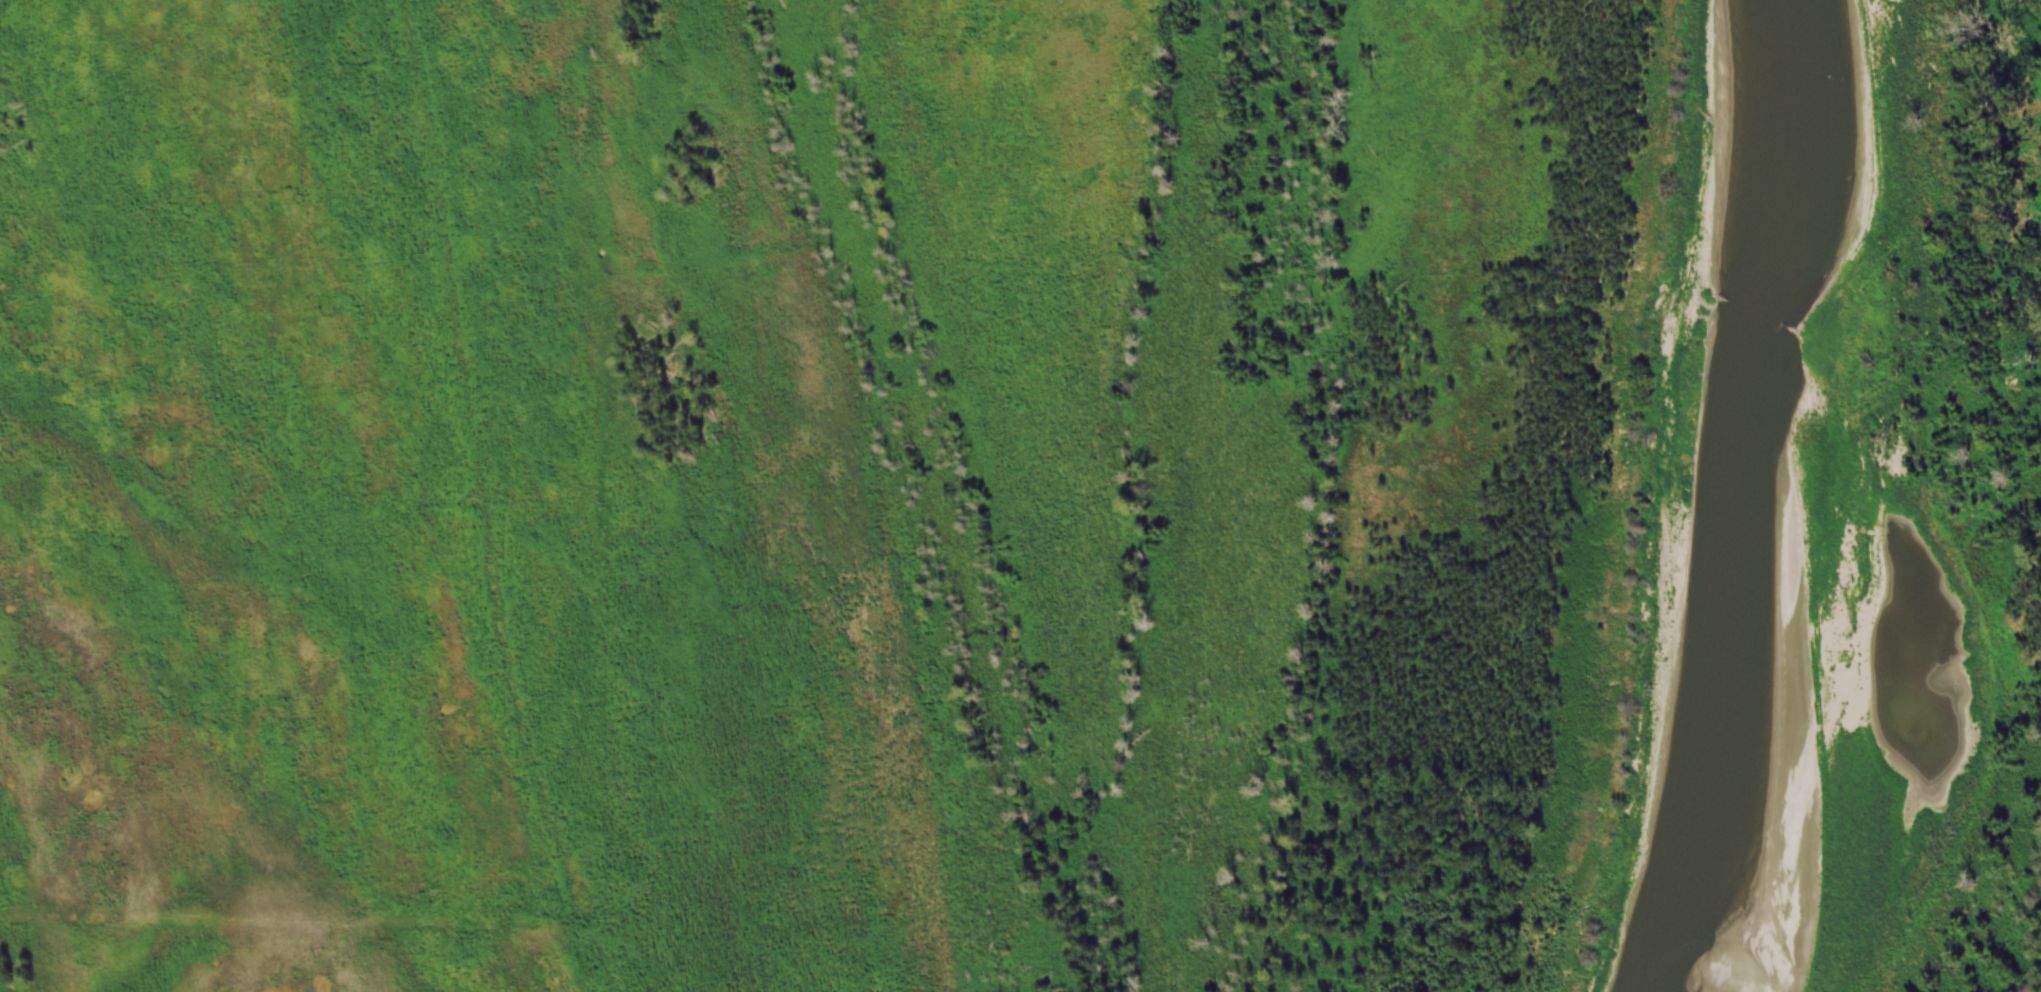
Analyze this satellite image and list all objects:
road: (1618, 495)

